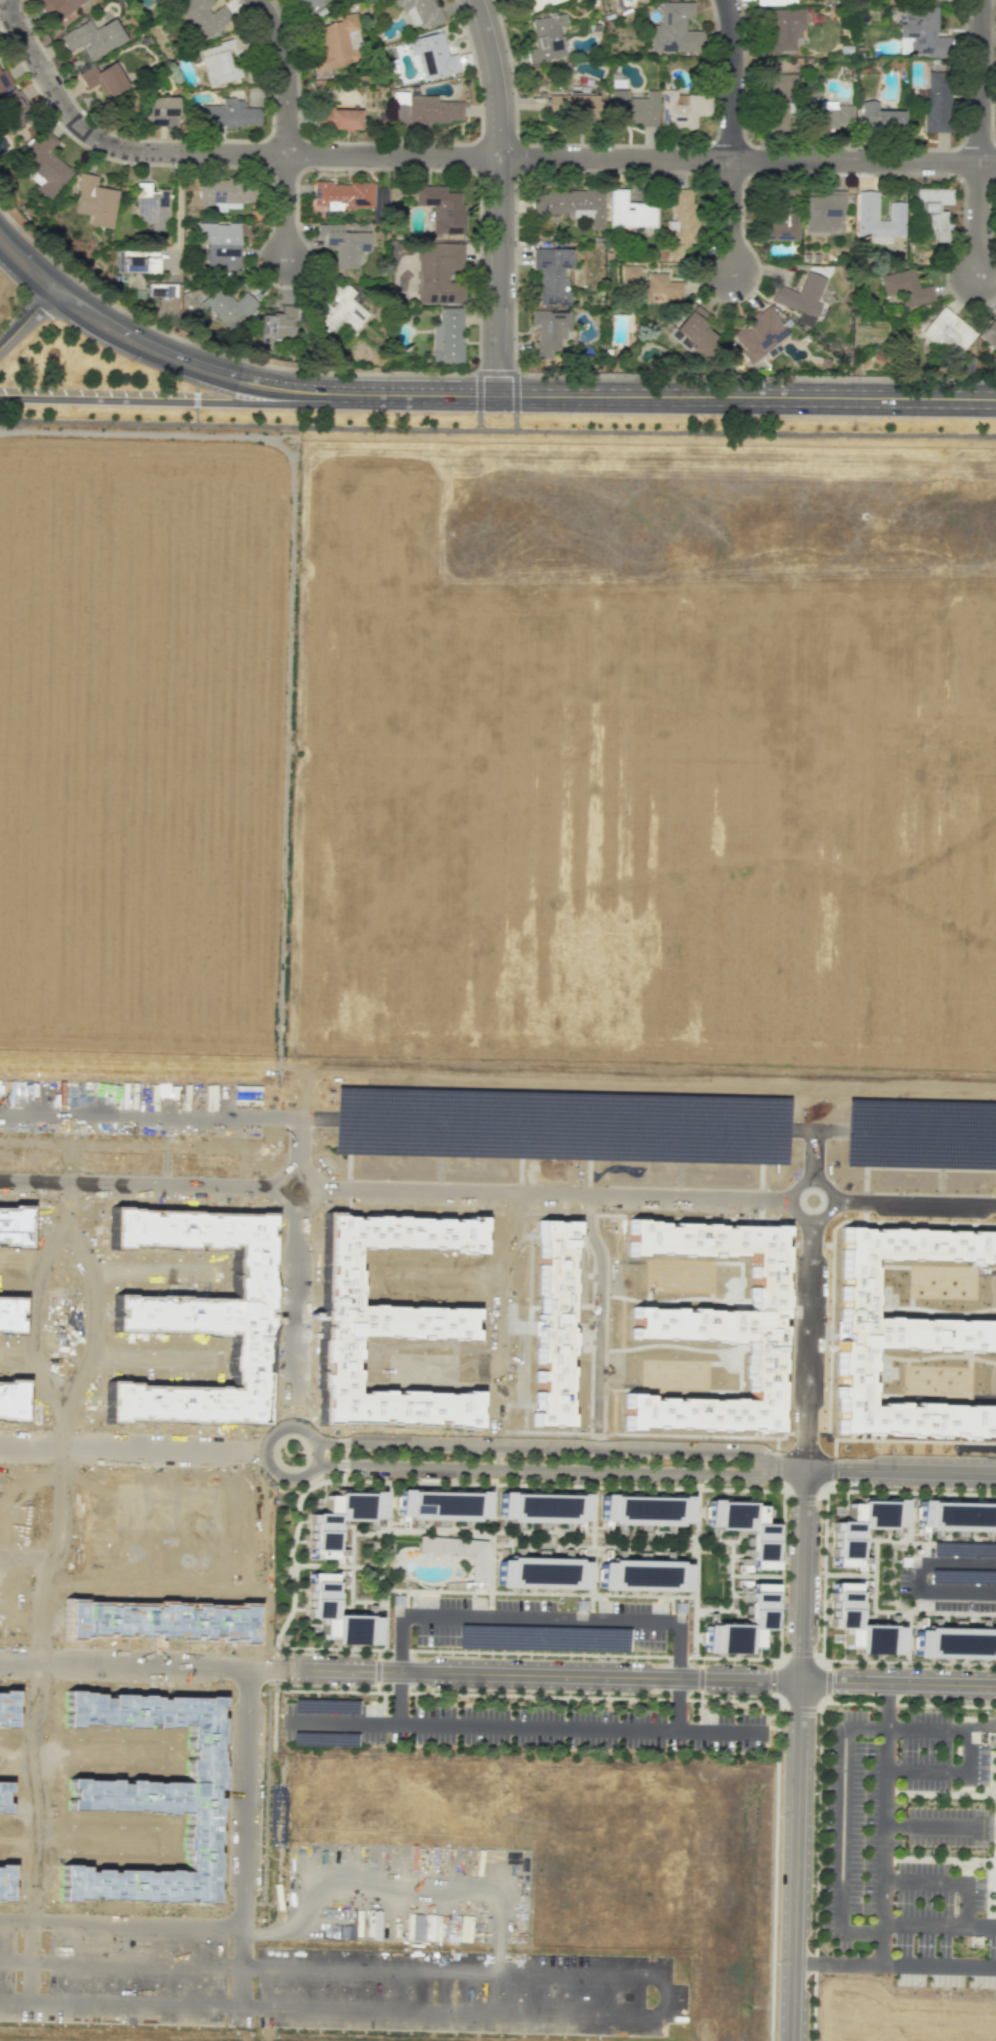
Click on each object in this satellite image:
building: (301, 1)
building: (774, 2)
street lamp: (741, 5)
building: (56, 6)
building: (420, 12)
building: (203, 17)
street lamp: (24, 18)
street lamp: (463, 25)
building: (673, 30)
building: (782, 30)
road: (8, 32)
building: (920, 33)
building: (92, 37)
building: (546, 37)
building: (333, 42)
building: (432, 55)
building: (221, 60)
road: (284, 72)
road: (494, 76)
building: (4, 78)
building: (103, 78)
road: (730, 79)
road: (978, 80)
building: (777, 100)
building: (936, 101)
building: (577, 105)
building: (632, 108)
building: (681, 109)
building: (430, 110)
building: (160, 111)
building: (228, 113)
building: (826, 113)
building: (878, 117)
building: (338, 118)
road: (212, 153)
road: (747, 159)
building: (43, 164)
street lamp: (312, 170)
street lamp: (465, 172)
street lamp: (854, 176)
building: (223, 194)
building: (343, 195)
building: (94, 200)
building: (572, 203)
road: (286, 206)
building: (151, 207)
building: (441, 208)
building: (866, 209)
building: (933, 210)
building: (629, 211)
building: (823, 211)
road: (177, 212)
road: (729, 216)
building: (681, 217)
road: (976, 218)
building: (344, 241)
building: (219, 244)
building: (138, 262)
road: (26, 266)
building: (438, 272)
building: (551, 274)
road: (497, 275)
building: (905, 285)
building: (649, 286)
building: (161, 290)
building: (800, 293)
street lamp: (18, 305)
building: (224, 306)
building: (338, 309)
road: (26, 318)
building: (804, 319)
building: (277, 325)
building: (693, 331)
building: (948, 331)
building: (548, 332)
building: (759, 333)
building: (989, 333)
building: (447, 336)
building: (994, 359)
street lamp: (130, 360)
road: (185, 362)
road: (665, 396)
road: (196, 398)
road: (168, 400)
street lamp: (496, 416)
road: (478, 421)
road: (515, 421)
road: (497, 429)
road: (283, 897)
road: (134, 1111)
road: (300, 1115)
road: (560, 1120)
road: (815, 1125)
road: (920, 1127)
road: (297, 1140)
road: (814, 1150)
road: (317, 1183)
road: (139, 1184)
road: (556, 1191)
road: (914, 1200)
road: (814, 1214)
road: (500, 1302)
road: (293, 1315)
road: (601, 1325)
road: (809, 1341)
road: (560, 1449)
road: (132, 1450)
road: (342, 1454)
road: (502, 1454)
road: (496, 1456)
road: (264, 1459)
road: (705, 1459)
road: (702, 1461)
road: (776, 1466)
road: (560, 1468)
road: (834, 1469)
road: (901, 1470)
road: (493, 1475)
road: (697, 1477)
street lamp: (824, 1486)
road: (689, 1488)
road: (825, 1489)
road: (783, 1490)
road: (805, 1498)
building: (440, 1505)
building: (542, 1507)
building: (643, 1508)
building: (956, 1515)
road: (907, 1516)
road: (387, 1524)
building: (746, 1528)
road: (611, 1534)
road: (60, 1539)
building: (321, 1539)
road: (901, 1541)
building: (845, 1545)
road: (352, 1549)
road: (491, 1550)
road: (592, 1551)
road: (321, 1565)
road: (366, 1565)
building: (477, 1567)
road: (695, 1570)
building: (540, 1572)
road: (849, 1574)
building: (642, 1575)
road: (756, 1575)
road: (803, 1575)
road: (380, 1576)
road: (823, 1577)
road: (920, 1577)
parking lot: (951, 1580)
road: (540, 1592)
building: (321, 1593)
road: (385, 1594)
road: (368, 1601)
building: (843, 1603)
building: (761, 1604)
road: (935, 1612)
road: (541, 1617)
parking lot: (540, 1624)
road: (384, 1626)
building: (544, 1637)
road: (906, 1637)
building: (954, 1642)
street lamp: (688, 1651)
road: (800, 1653)
road: (378, 1654)
road: (779, 1659)
street lamp: (667, 1660)
road: (821, 1660)
road: (701, 1662)
road: (275, 1667)
road: (378, 1670)
road: (400, 1672)
road: (700, 1678)
road: (772, 1680)
road: (828, 1681)
road: (898, 1683)
road: (377, 1686)
road: (665, 1698)
road: (821, 1701)
road: (778, 1702)
road: (383, 1707)
road: (801, 1709)
road: (699, 1710)
road: (345, 1721)
parking lot: (525, 1726)
road: (538, 1727)
road: (846, 1729)
road: (719, 1731)
road: (818, 1783)
road: (940, 1793)
road: (931, 1826)
parking lot: (863, 1855)
road: (994, 1859)
road: (796, 1860)
road: (939, 1860)
road: (884, 1867)
road: (964, 1904)
road: (242, 1920)
road: (979, 1925)
road: (500, 1934)
road: (32, 1952)
road: (938, 1964)
road: (143, 1975)
road: (32, 1995)
road: (242, 2000)
parking lot: (367, 2022)
road: (433, 2029)

